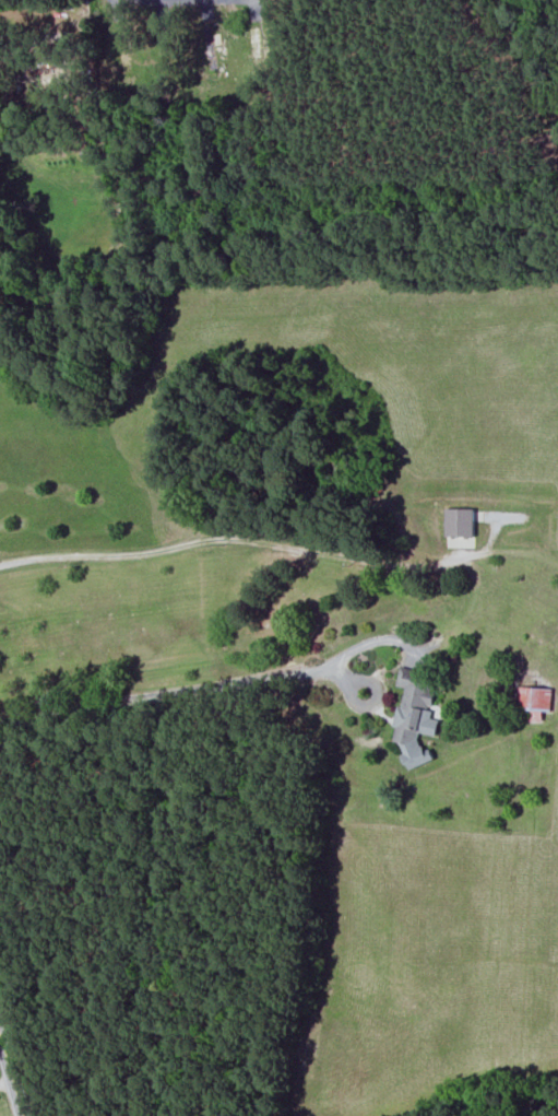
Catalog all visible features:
building: (461, 521)
road: (281, 548)
road: (170, 696)
road: (373, 701)
building: (533, 701)
building: (416, 716)
road: (11, 1074)
road: (7, 1082)

